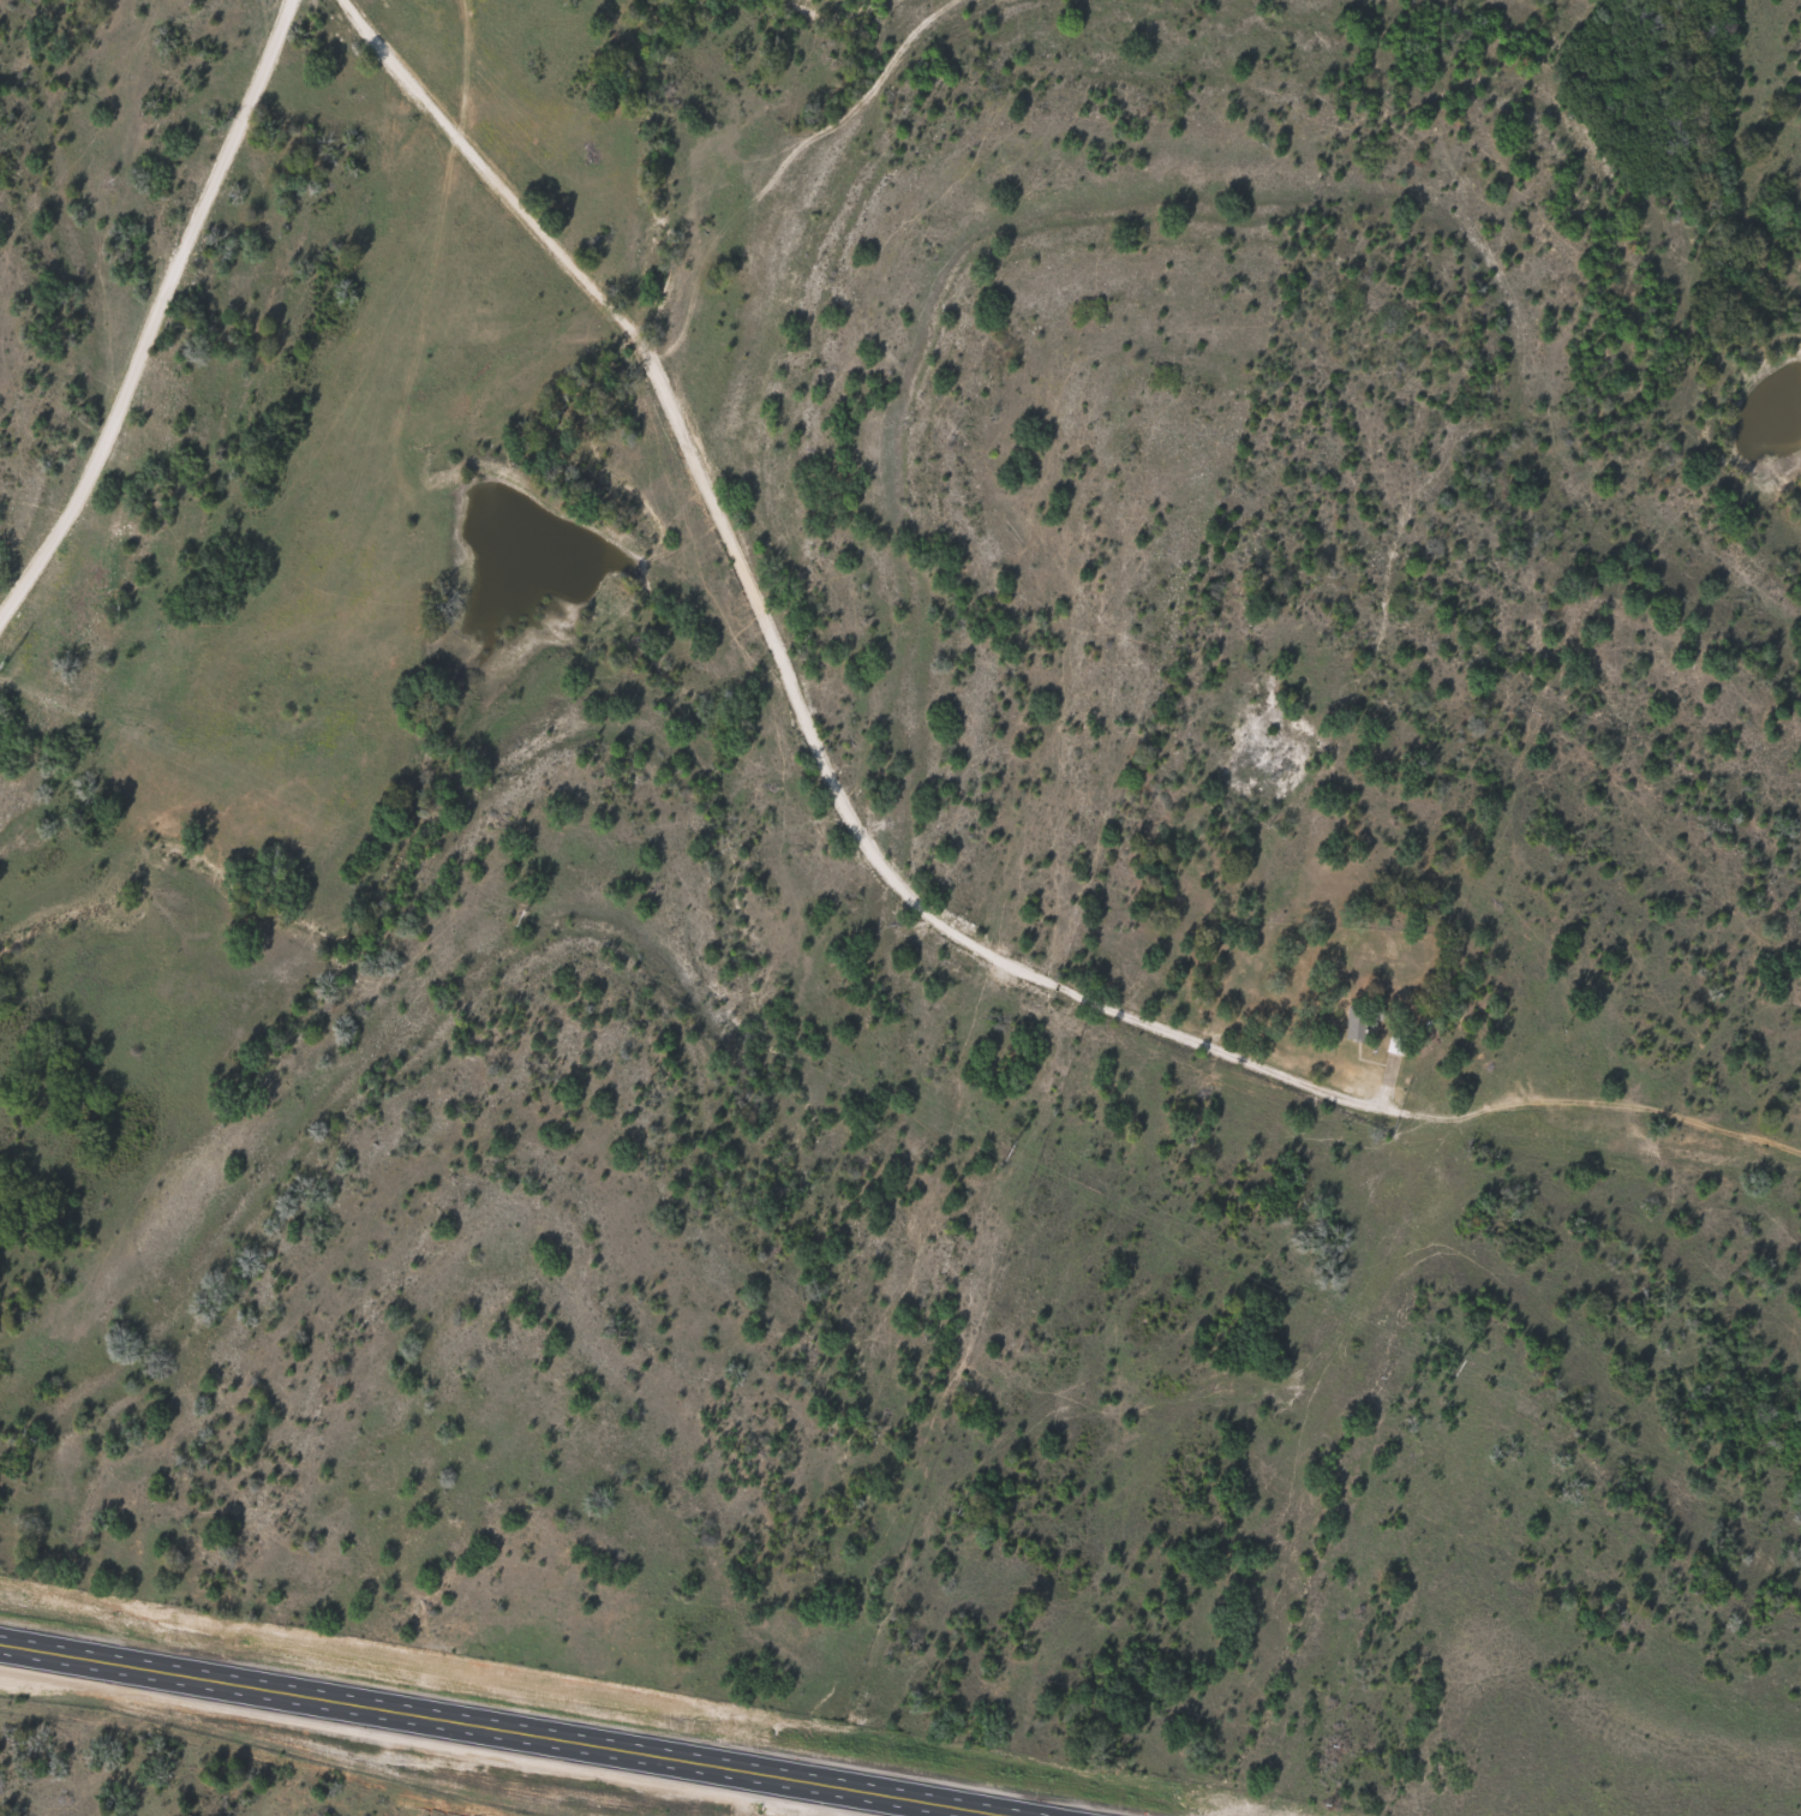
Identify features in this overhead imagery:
road: (131, 283)
power tower: (1, 665)
road: (872, 834)
power tower: (521, 915)
building: (1357, 1022)
building: (1396, 1045)
power tower: (1007, 1151)
power tower: (1454, 1366)
road: (489, 1731)

